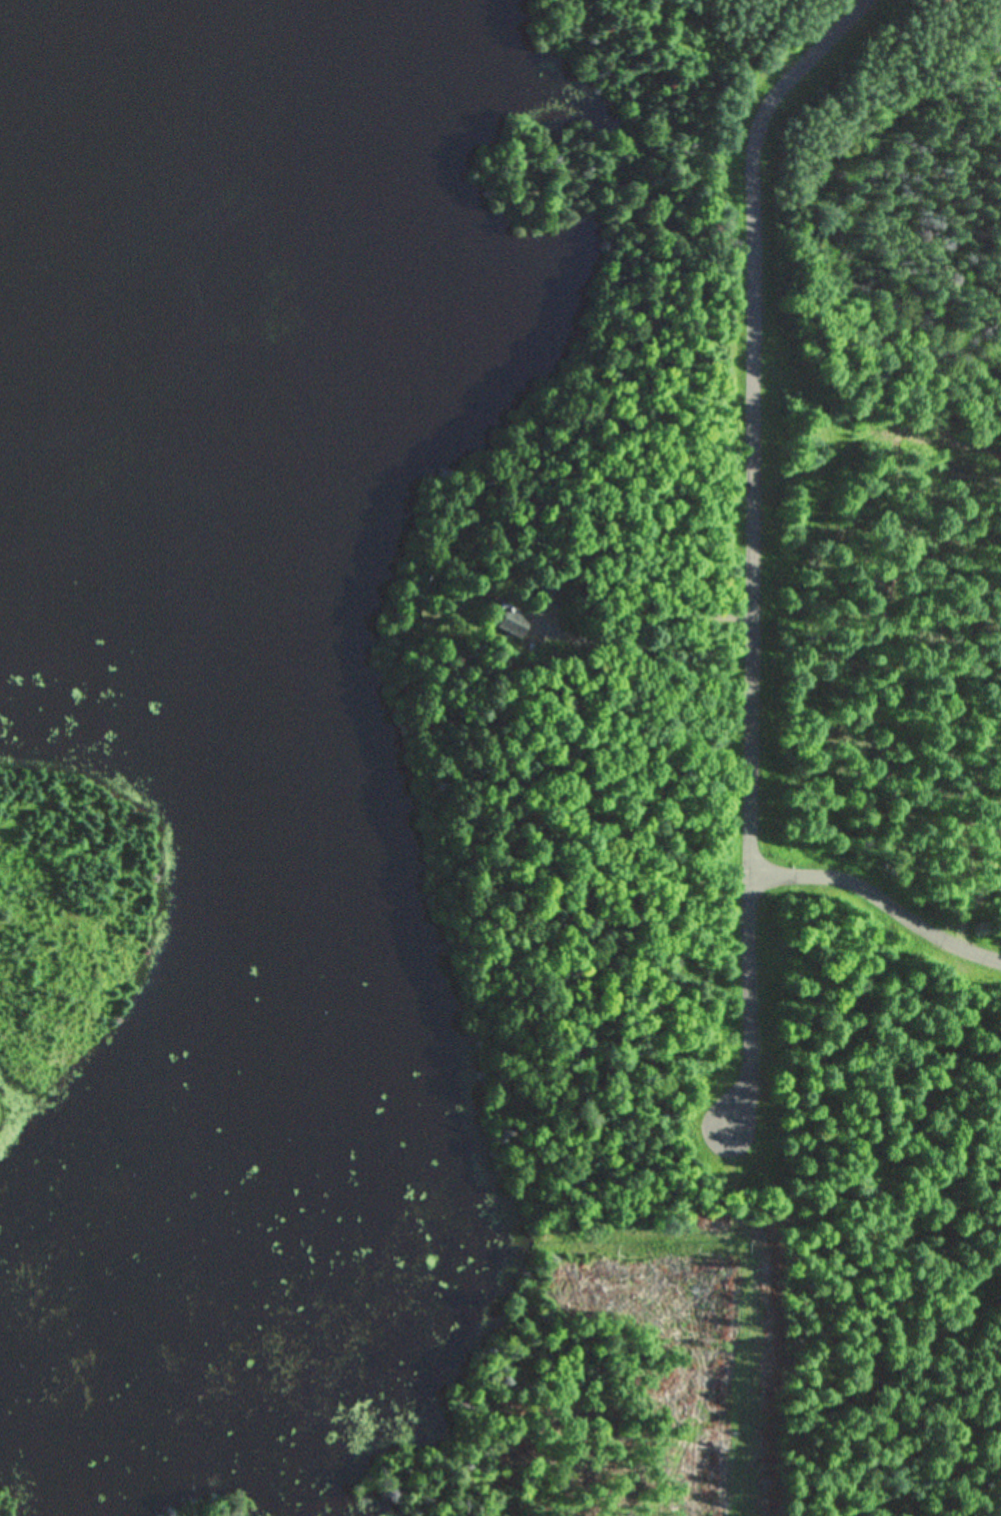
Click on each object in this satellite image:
river: (127, 140)
road: (752, 541)
building: (546, 593)
building: (511, 621)
road: (880, 905)
airport: (60, 920)
airport: (608, 1385)

